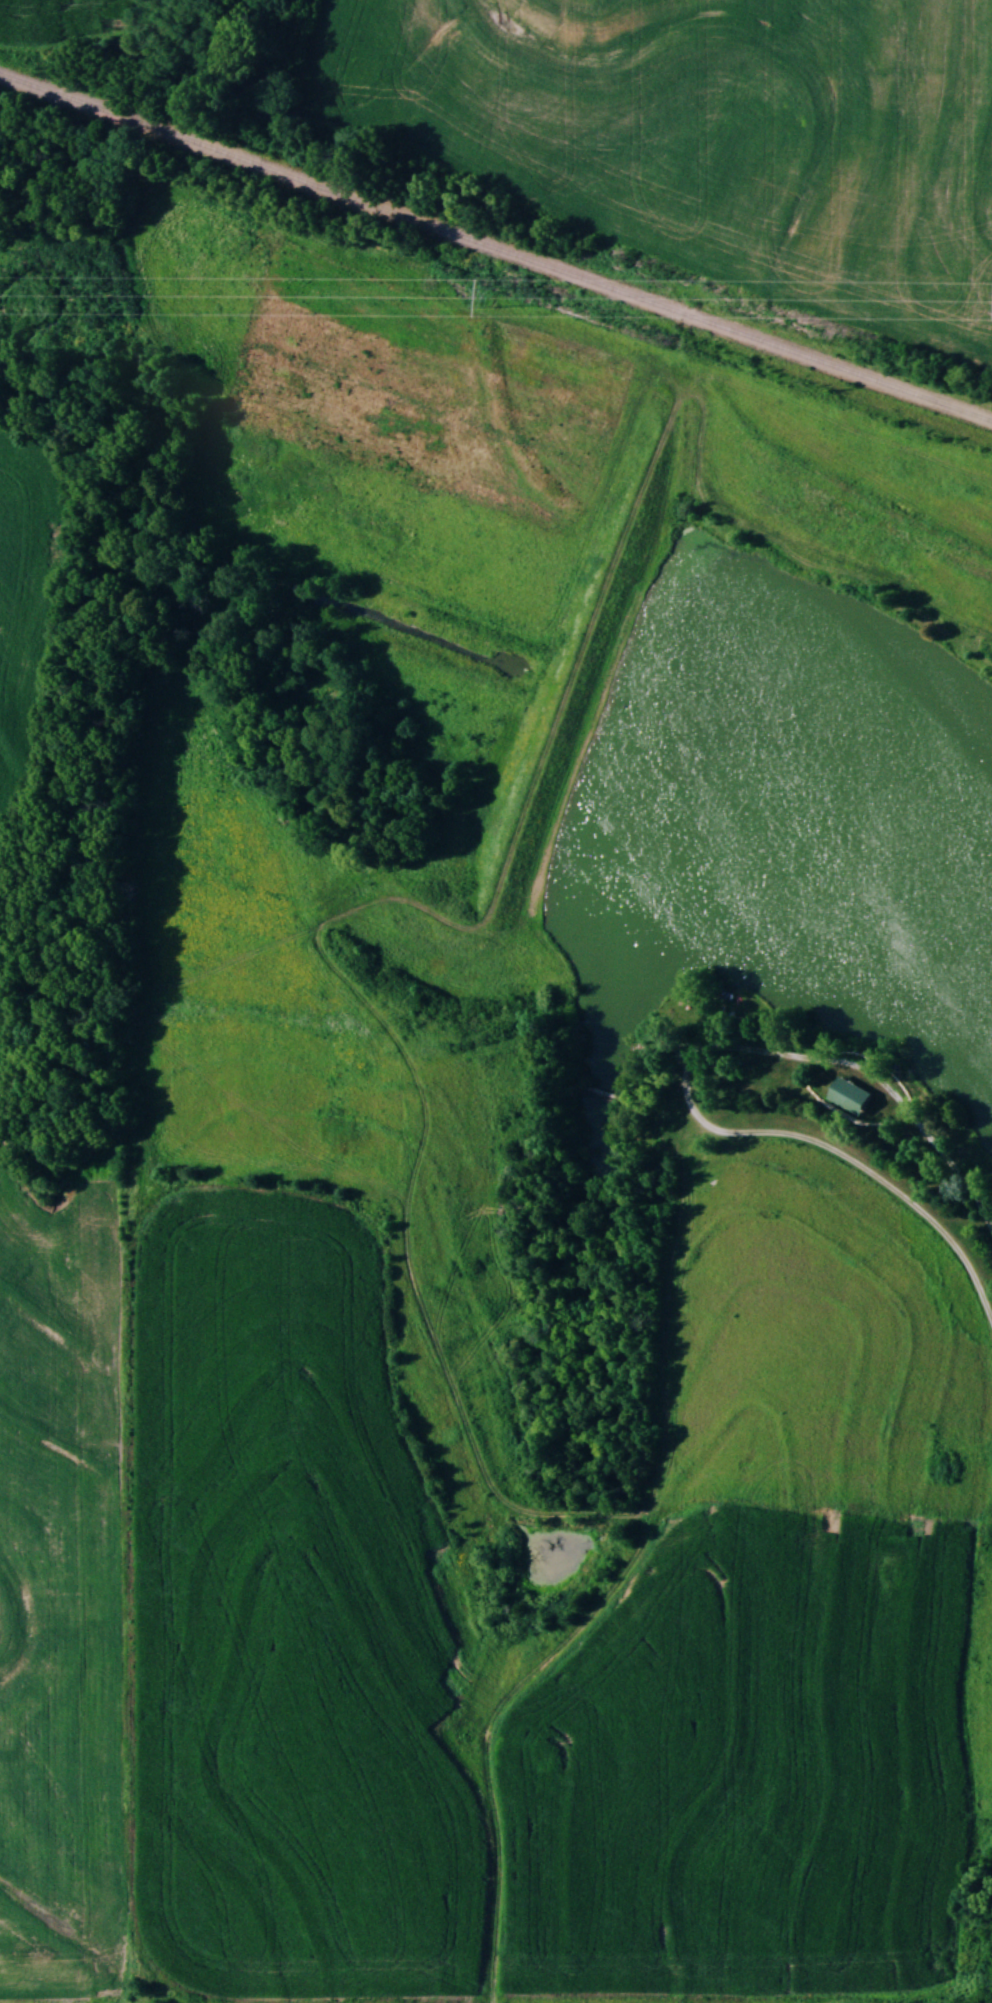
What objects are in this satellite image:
railway: (496, 245)
power tower: (493, 294)
building: (854, 1059)

